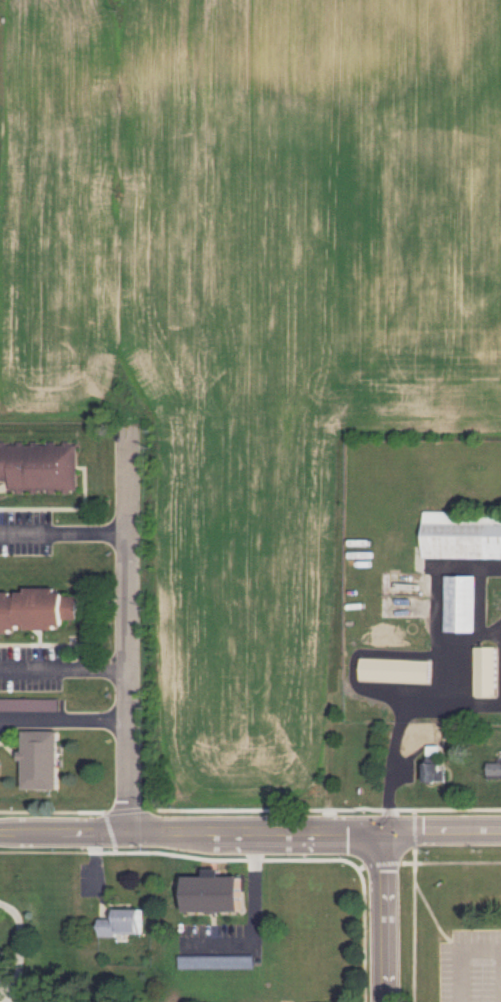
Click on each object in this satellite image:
building: (40, 467)
road: (63, 533)
building: (462, 535)
building: (462, 603)
building: (36, 609)
road: (127, 636)
road: (449, 643)
road: (64, 667)
building: (396, 669)
building: (486, 670)
building: (29, 704)
road: (475, 704)
road: (64, 722)
road: (394, 748)
building: (42, 759)
building: (434, 764)
building: (494, 769)
road: (330, 833)
road: (80, 835)
road: (444, 844)
building: (212, 893)
road: (255, 914)
road: (388, 917)
building: (122, 922)
road: (462, 958)
building: (215, 961)

